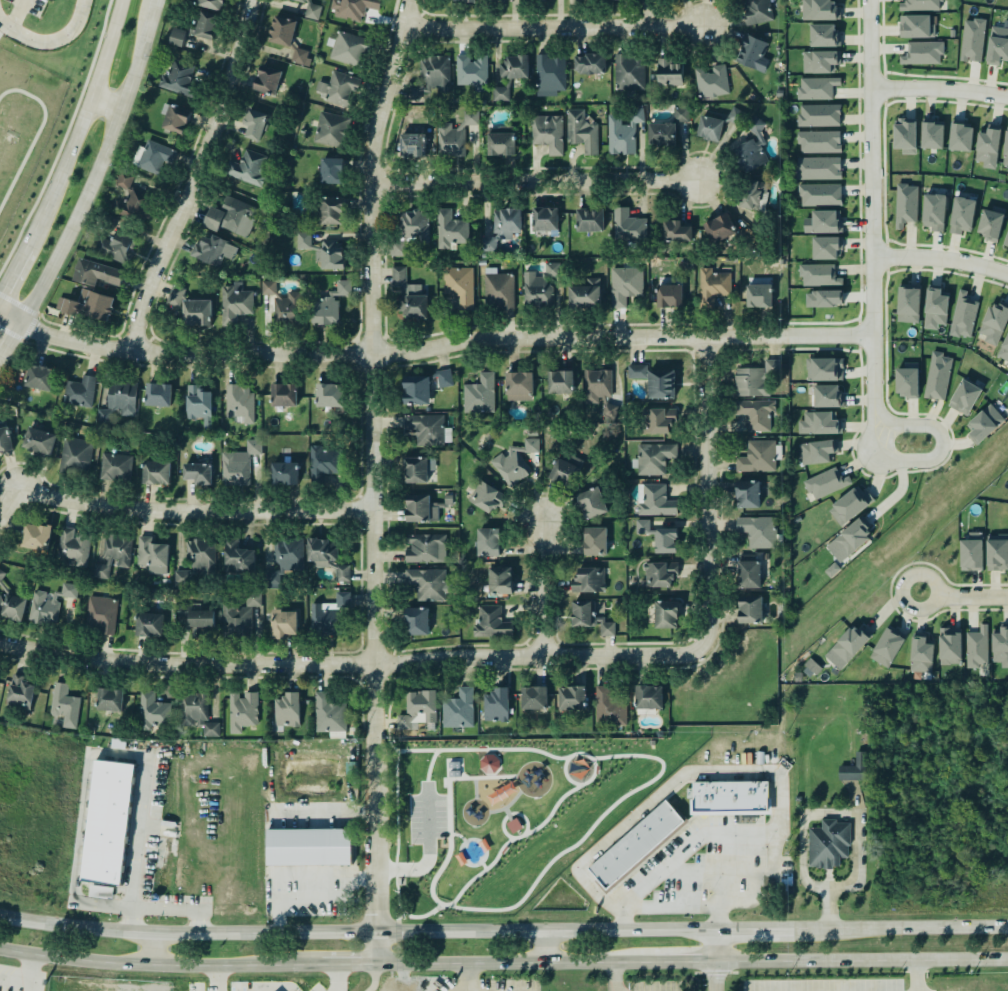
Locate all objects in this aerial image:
building: (301, 0)
building: (462, 0)
building: (631, 0)
building: (537, 1)
building: (208, 3)
parking lot: (28, 5)
building: (919, 5)
building: (350, 7)
building: (311, 9)
building: (820, 10)
building: (757, 11)
road: (16, 14)
building: (194, 27)
building: (917, 27)
road: (550, 28)
building: (824, 34)
building: (286, 35)
road: (50, 40)
building: (972, 40)
building: (997, 45)
building: (348, 48)
building: (756, 48)
building: (922, 53)
road: (139, 56)
building: (590, 59)
building: (821, 61)
building: (470, 67)
building: (514, 67)
building: (629, 71)
building: (548, 73)
building: (669, 73)
building: (264, 74)
building: (178, 77)
building: (432, 78)
building: (710, 80)
building: (339, 88)
building: (815, 88)
road: (941, 89)
building: (500, 93)
road: (105, 107)
building: (819, 116)
building: (176, 119)
building: (251, 119)
building: (722, 123)
road: (79, 126)
building: (327, 126)
building: (580, 126)
building: (667, 128)
building: (623, 132)
building: (548, 133)
building: (931, 133)
building: (455, 134)
building: (959, 135)
building: (906, 136)
building: (502, 142)
building: (820, 142)
building: (411, 143)
building: (988, 147)
building: (752, 149)
building: (1006, 149)
building: (155, 156)
building: (243, 165)
building: (818, 167)
building: (332, 170)
road: (197, 178)
road: (534, 182)
building: (753, 193)
building: (819, 195)
building: (133, 199)
building: (904, 203)
building: (330, 209)
building: (544, 212)
road: (874, 212)
building: (935, 213)
building: (961, 213)
building: (227, 214)
building: (588, 214)
road: (77, 221)
building: (824, 222)
building: (991, 223)
building: (502, 226)
building: (628, 227)
building: (409, 228)
building: (719, 228)
building: (450, 230)
building: (674, 230)
building: (1006, 240)
building: (117, 246)
building: (827, 248)
building: (213, 249)
building: (322, 249)
road: (942, 260)
building: (552, 268)
road: (12, 271)
building: (96, 271)
building: (817, 275)
building: (399, 276)
building: (461, 283)
building: (625, 283)
building: (713, 286)
building: (269, 287)
building: (498, 289)
building: (537, 290)
building: (759, 293)
building: (585, 294)
building: (175, 295)
building: (668, 295)
building: (824, 298)
building: (90, 303)
building: (233, 304)
building: (330, 304)
building: (413, 305)
building: (909, 305)
building: (287, 309)
building: (936, 311)
building: (198, 312)
building: (962, 312)
building: (994, 323)
road: (9, 338)
road: (434, 349)
building: (1004, 350)
building: (825, 369)
building: (39, 375)
building: (938, 376)
building: (654, 379)
building: (756, 379)
building: (559, 380)
building: (907, 380)
building: (423, 384)
building: (518, 385)
building: (598, 385)
building: (481, 390)
building: (80, 391)
building: (157, 392)
building: (284, 394)
building: (330, 396)
building: (828, 396)
building: (964, 398)
building: (119, 402)
building: (240, 403)
building: (199, 404)
building: (754, 410)
building: (658, 420)
building: (819, 423)
building: (985, 423)
building: (425, 425)
building: (5, 439)
building: (39, 439)
building: (818, 451)
building: (76, 455)
building: (653, 455)
building: (757, 455)
road: (930, 459)
building: (513, 460)
building: (321, 462)
building: (237, 464)
building: (114, 465)
building: (415, 466)
building: (564, 467)
building: (283, 471)
building: (156, 472)
building: (198, 473)
road: (369, 480)
building: (824, 481)
building: (746, 492)
building: (482, 493)
road: (703, 493)
building: (591, 501)
building: (655, 501)
building: (850, 505)
building: (424, 508)
road: (174, 512)
building: (642, 526)
building: (756, 530)
building: (35, 535)
building: (487, 537)
building: (594, 539)
building: (850, 539)
building: (666, 540)
building: (72, 545)
building: (425, 546)
building: (113, 551)
building: (971, 552)
building: (997, 552)
building: (151, 554)
building: (238, 557)
building: (326, 557)
building: (197, 559)
building: (285, 561)
building: (748, 571)
building: (658, 572)
building: (498, 573)
building: (589, 580)
building: (428, 584)
road: (540, 587)
road: (962, 596)
building: (252, 599)
building: (10, 602)
building: (50, 603)
building: (748, 605)
building: (101, 614)
building: (666, 614)
building: (329, 615)
building: (589, 616)
building: (237, 619)
building: (415, 620)
building: (201, 621)
building: (490, 621)
building: (148, 623)
building: (283, 623)
building: (887, 645)
building: (948, 645)
building: (976, 646)
building: (847, 647)
building: (999, 648)
building: (921, 658)
road: (349, 663)
building: (811, 668)
building: (19, 691)
building: (532, 692)
building: (571, 694)
building: (649, 697)
building: (109, 698)
building: (496, 701)
building: (65, 705)
building: (418, 706)
building: (610, 707)
building: (287, 708)
building: (458, 709)
building: (242, 710)
building: (152, 711)
building: (196, 713)
building: (329, 715)
road: (388, 740)
road: (462, 749)
road: (528, 749)
road: (417, 750)
road: (487, 751)
road: (580, 753)
road: (454, 759)
building: (489, 763)
road: (429, 766)
road: (460, 766)
building: (855, 768)
road: (448, 769)
road: (712, 772)
road: (593, 773)
road: (565, 774)
road: (463, 775)
road: (495, 776)
road: (470, 777)
road: (457, 778)
road: (475, 787)
building: (729, 791)
road: (513, 800)
road: (396, 806)
road: (449, 806)
road: (554, 809)
road: (496, 810)
road: (506, 811)
road: (847, 812)
park: (506, 815)
road: (523, 817)
parking lot: (427, 818)
road: (510, 818)
building: (109, 821)
building: (514, 824)
road: (502, 827)
road: (590, 828)
road: (458, 835)
road: (519, 836)
building: (827, 842)
road: (482, 843)
building: (636, 843)
road: (688, 845)
building: (309, 846)
road: (427, 850)
water park: (473, 851)
road: (498, 854)
road: (136, 855)
road: (463, 859)
road: (396, 865)
road: (483, 865)
road: (439, 870)
road: (396, 873)
road: (465, 885)
building: (101, 891)
road: (398, 892)
road: (307, 895)
road: (83, 899)
road: (667, 904)
road: (445, 905)
road: (397, 914)
road: (420, 916)
road: (397, 927)
road: (899, 927)
road: (750, 928)
road: (355, 935)
road: (711, 946)
road: (545, 948)
road: (150, 950)
road: (859, 961)
road: (682, 963)
road: (514, 964)
road: (347, 965)
road: (398, 965)
road: (160, 966)
road: (917, 976)
road: (465, 977)
road: (612, 977)
road: (711, 977)
road: (372, 979)

